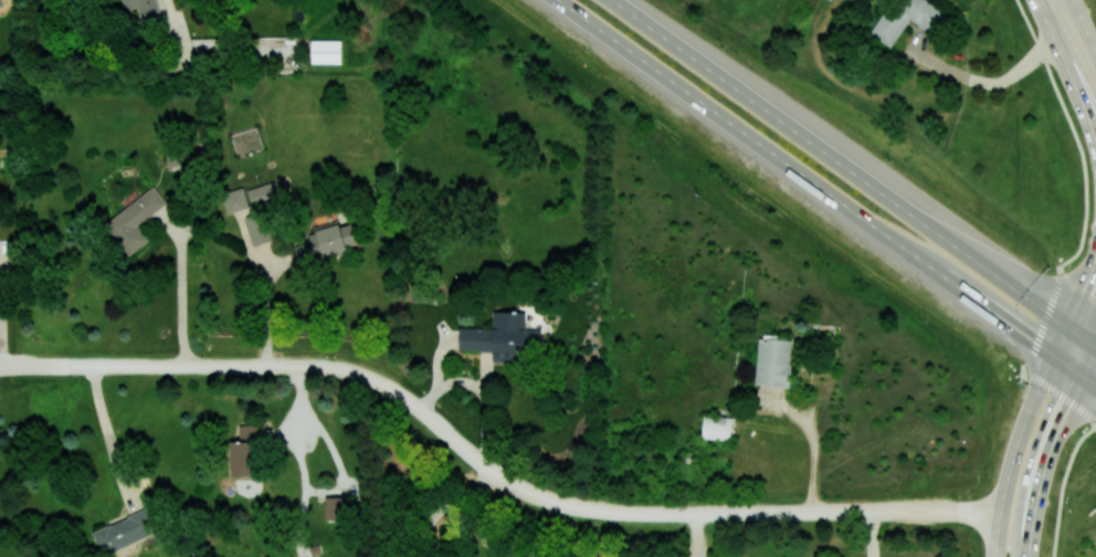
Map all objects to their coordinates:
building: (145, 9)
building: (906, 18)
road: (1065, 22)
road: (1084, 25)
road: (114, 41)
street lamp: (588, 48)
street lamp: (725, 50)
building: (326, 51)
road: (1067, 72)
road: (986, 82)
street lamp: (888, 160)
street lamp: (758, 168)
road: (854, 172)
building: (262, 191)
road: (828, 192)
building: (234, 200)
building: (134, 220)
building: (260, 228)
building: (326, 241)
street lamp: (1048, 266)
street lamp: (920, 285)
road: (181, 286)
traffic signals: (1084, 287)
road: (1053, 292)
road: (1075, 303)
road: (263, 306)
traffic signals: (1024, 334)
building: (502, 337)
road: (1088, 359)
building: (773, 361)
road: (193, 366)
street lamp: (1018, 382)
traffic signals: (1064, 413)
road: (438, 420)
building: (717, 427)
road: (1020, 431)
road: (109, 437)
building: (243, 451)
street lamp: (1068, 452)
road: (1045, 463)
street lamp: (986, 475)
building: (334, 507)
road: (719, 511)
road: (982, 513)
road: (430, 528)
building: (123, 532)
road: (997, 534)
street lamp: (1046, 551)

